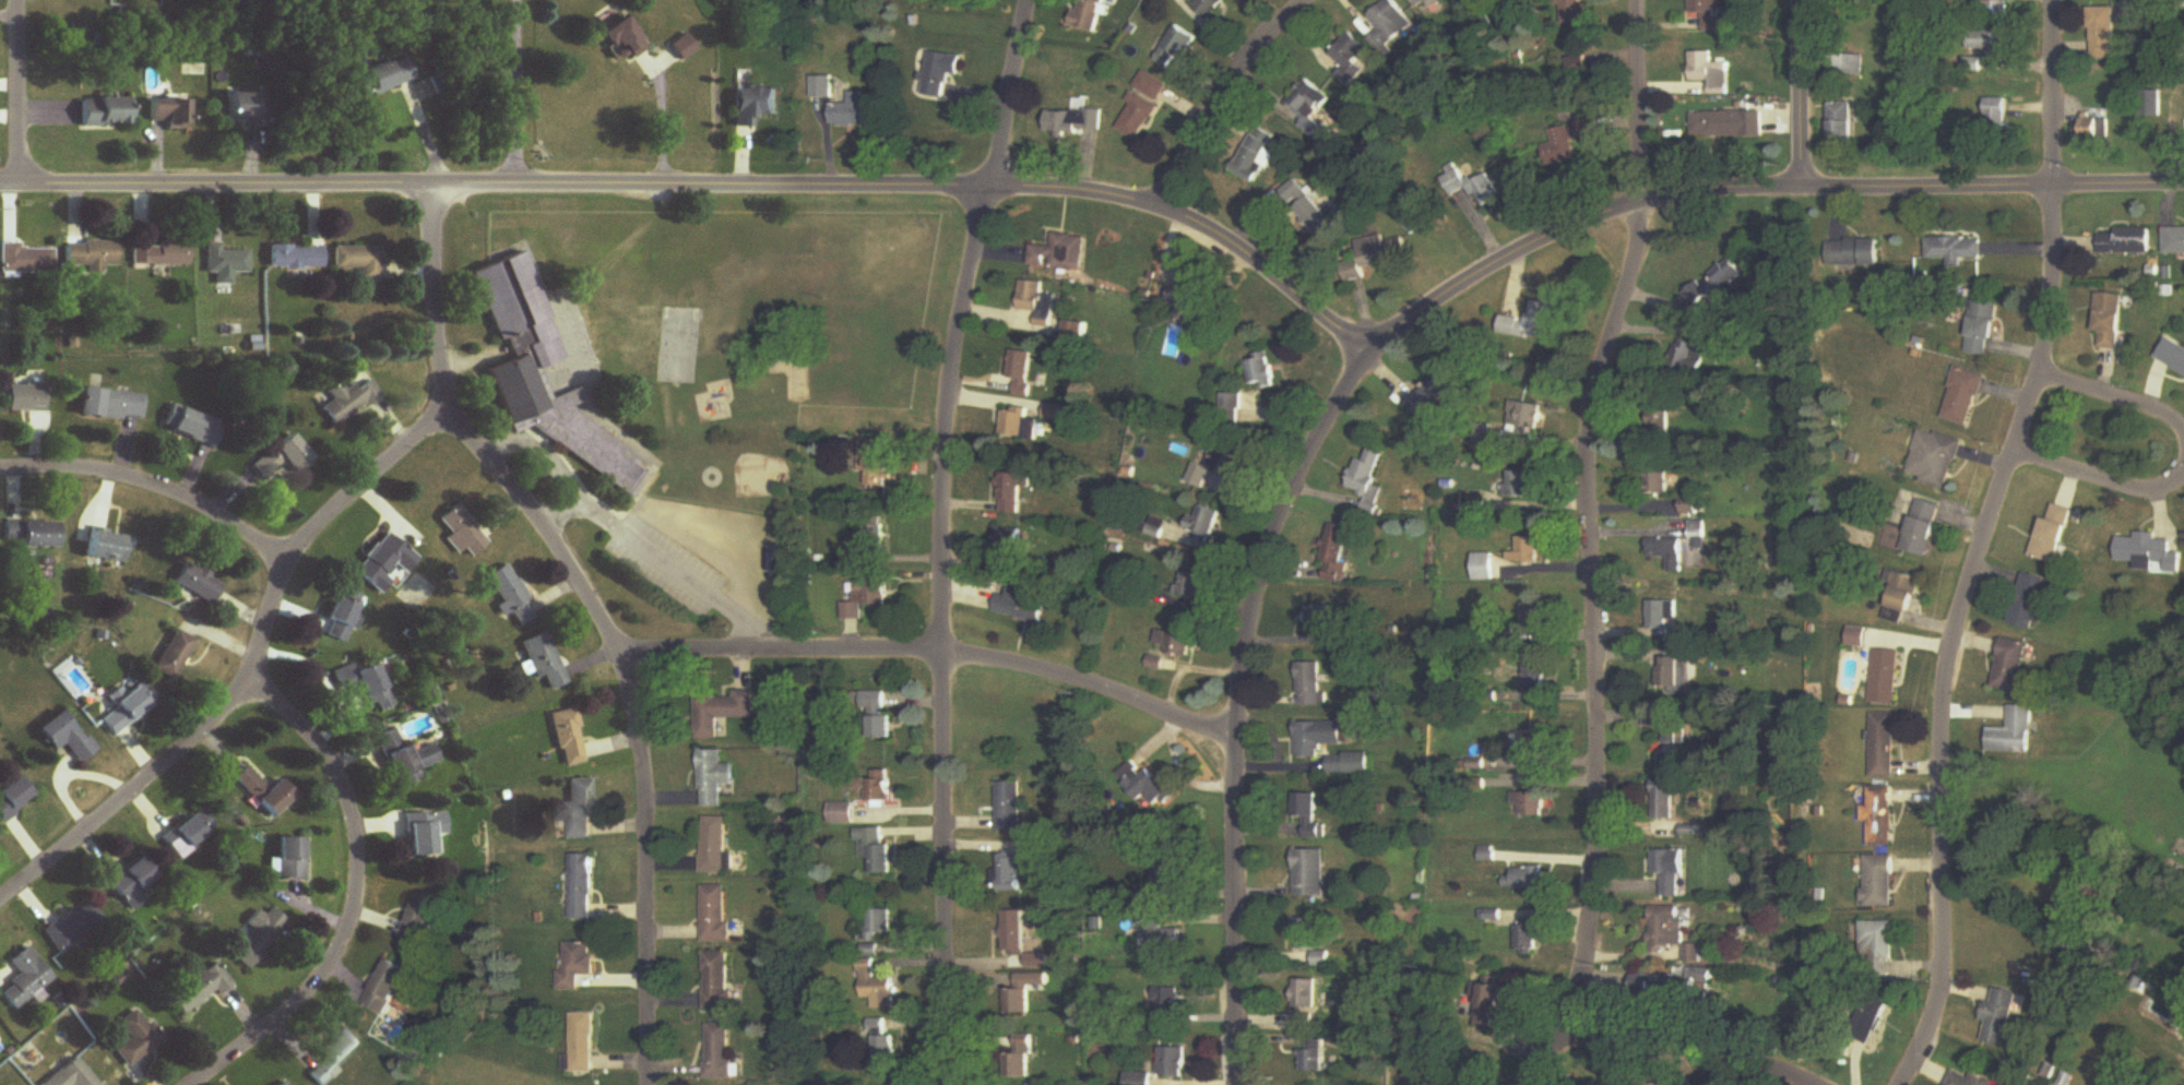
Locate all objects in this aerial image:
building: (1431, 2)
building: (1210, 8)
building: (1995, 10)
building: (1575, 12)
building: (1710, 14)
building: (1089, 15)
building: (1393, 20)
building: (2105, 34)
building: (624, 40)
building: (1991, 45)
building: (682, 48)
building: (1178, 50)
building: (1353, 52)
building: (1850, 64)
building: (1579, 65)
building: (1711, 73)
building: (941, 74)
building: (2164, 75)
building: (383, 77)
building: (1153, 86)
building: (823, 88)
road: (517, 91)
road: (2055, 91)
road: (1800, 92)
road: (19, 95)
road: (1225, 95)
building: (2151, 105)
building: (756, 106)
building: (1311, 108)
building: (246, 110)
building: (105, 112)
building: (852, 112)
building: (167, 114)
building: (1999, 115)
building: (1139, 117)
building: (1077, 123)
building: (1843, 124)
building: (1729, 126)
building: (1589, 130)
building: (2094, 132)
building: (1562, 147)
building: (1258, 156)
road: (1750, 180)
road: (708, 181)
building: (1474, 187)
building: (1306, 208)
building: (1412, 219)
building: (2176, 241)
building: (2130, 242)
building: (1957, 250)
building: (1380, 251)
building: (1857, 252)
building: (159, 254)
building: (1060, 254)
building: (92, 255)
building: (295, 258)
building: (25, 260)
building: (358, 261)
building: (225, 263)
building: (1717, 285)
building: (1037, 300)
building: (1191, 302)
building: (1534, 321)
building: (2114, 321)
building: (1984, 327)
building: (587, 337)
building: (2173, 354)
building: (1694, 358)
building: (1261, 371)
building: (1022, 372)
building: (543, 377)
building: (1432, 393)
building: (24, 397)
building: (1965, 397)
road: (2117, 400)
building: (347, 402)
building: (110, 405)
building: (1057, 414)
building: (1528, 419)
building: (1022, 426)
building: (191, 427)
building: (281, 458)
building: (1936, 460)
building: (1220, 468)
building: (1661, 479)
road: (2100, 480)
building: (1367, 482)
building: (1523, 485)
road: (153, 486)
building: (1016, 493)
building: (1693, 505)
road: (559, 506)
building: (1203, 522)
road: (627, 527)
building: (1925, 529)
building: (459, 530)
building: (1701, 530)
building: (32, 535)
building: (2056, 535)
road: (942, 538)
building: (878, 539)
road: (1584, 546)
building: (108, 547)
building: (1529, 551)
building: (1671, 553)
building: (2150, 553)
building: (1336, 555)
building: (384, 563)
building: (1486, 568)
building: (195, 584)
building: (1191, 585)
building: (414, 593)
building: (511, 596)
building: (868, 598)
building: (1904, 598)
building: (2032, 603)
building: (1021, 607)
road: (596, 610)
building: (1664, 616)
building: (343, 617)
building: (1534, 620)
building: (1324, 621)
road: (1955, 630)
building: (1857, 639)
building: (1176, 643)
road: (947, 653)
building: (173, 656)
building: (544, 664)
building: (2013, 667)
building: (1672, 671)
road: (250, 675)
building: (1886, 678)
building: (72, 679)
building: (1538, 679)
building: (1314, 684)
building: (373, 690)
road: (1237, 707)
building: (127, 710)
building: (722, 713)
building: (879, 715)
building: (2015, 734)
building: (67, 737)
building: (568, 738)
building: (1319, 738)
building: (1885, 747)
building: (1529, 748)
building: (404, 759)
building: (1351, 764)
building: (715, 779)
building: (249, 784)
building: (1144, 785)
building: (881, 787)
building: (13, 798)
building: (275, 799)
building: (1531, 804)
building: (1010, 807)
building: (578, 809)
building: (1665, 809)
building: (843, 814)
building: (1310, 815)
building: (1882, 816)
building: (188, 833)
building: (425, 833)
building: (715, 846)
building: (876, 851)
building: (290, 858)
building: (1011, 873)
building: (1311, 873)
building: (1667, 874)
building: (1526, 879)
building: (1880, 882)
building: (132, 883)
building: (582, 887)
road: (356, 894)
building: (716, 911)
building: (420, 923)
building: (880, 925)
building: (72, 927)
building: (1673, 932)
building: (1014, 934)
building: (1307, 935)
building: (259, 937)
building: (1529, 937)
building: (1171, 940)
building: (1878, 945)
building: (577, 966)
building: (24, 979)
building: (719, 982)
building: (1657, 986)
building: (878, 988)
building: (201, 989)
building: (387, 989)
building: (1495, 994)
building: (1020, 995)
building: (1306, 995)
building: (1170, 1005)
building: (2001, 1018)
building: (1872, 1020)
building: (135, 1039)
building: (583, 1044)
building: (882, 1048)
building: (720, 1051)
road: (1682, 1051)
building: (335, 1056)
building: (1019, 1061)
building: (1314, 1062)
building: (1172, 1063)
building: (71, 1075)
building: (1138, 1078)
building: (1971, 1081)
building: (285, 1084)

